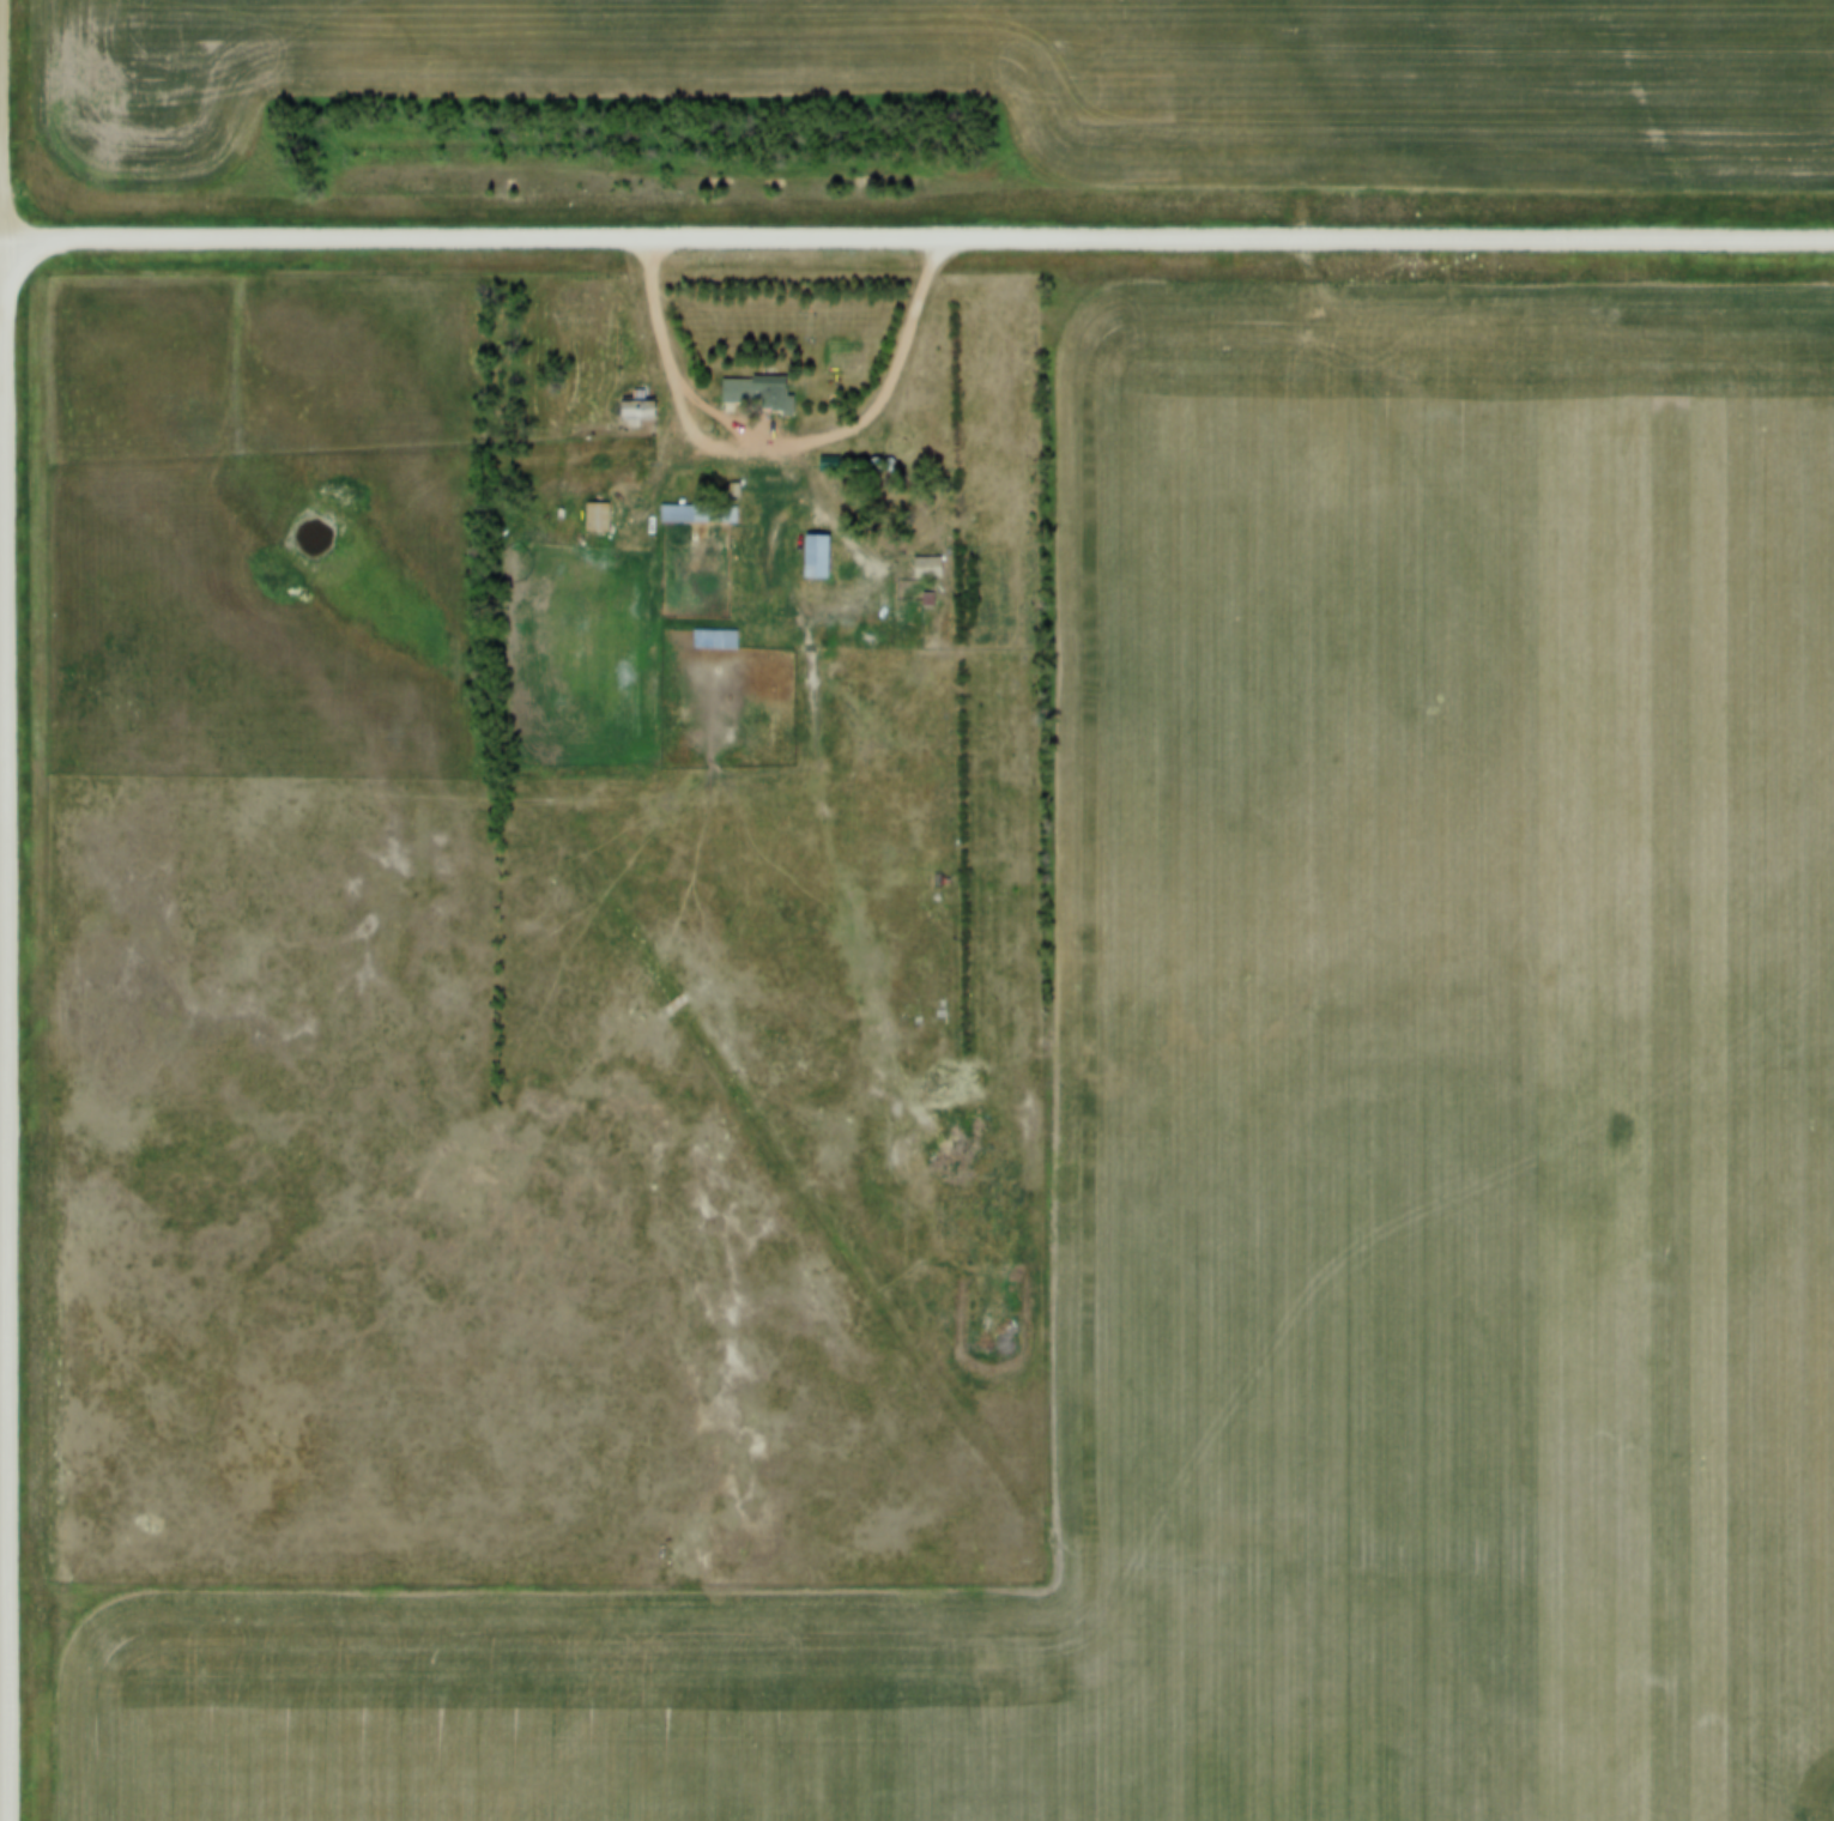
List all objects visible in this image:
road: (2, 115)
road: (1, 231)
road: (919, 231)
building: (756, 381)
building: (640, 399)
road: (789, 443)
building: (698, 502)
building: (597, 504)
building: (840, 550)
building: (928, 555)
road: (4, 1026)
crop: (1294, 1154)

